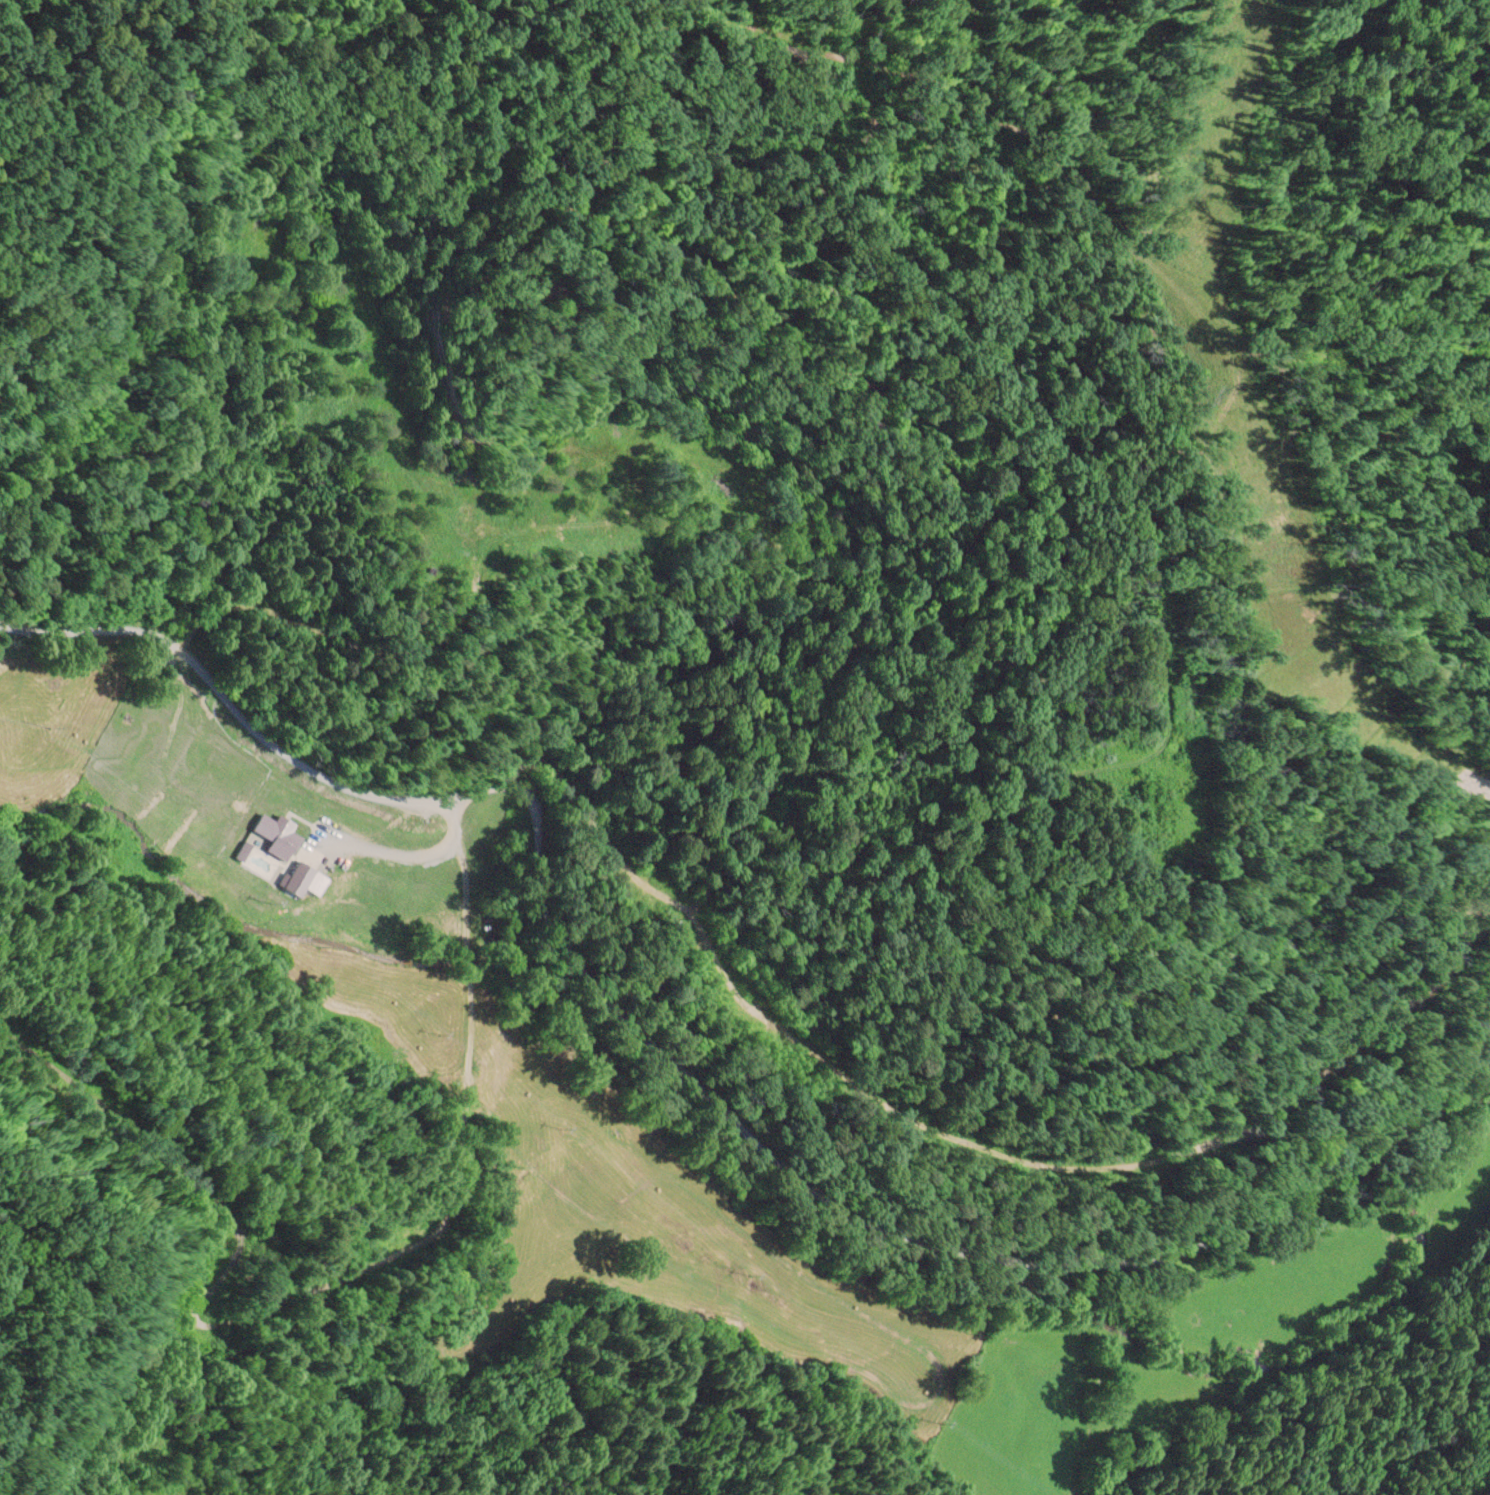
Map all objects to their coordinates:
road: (712, 1059)

